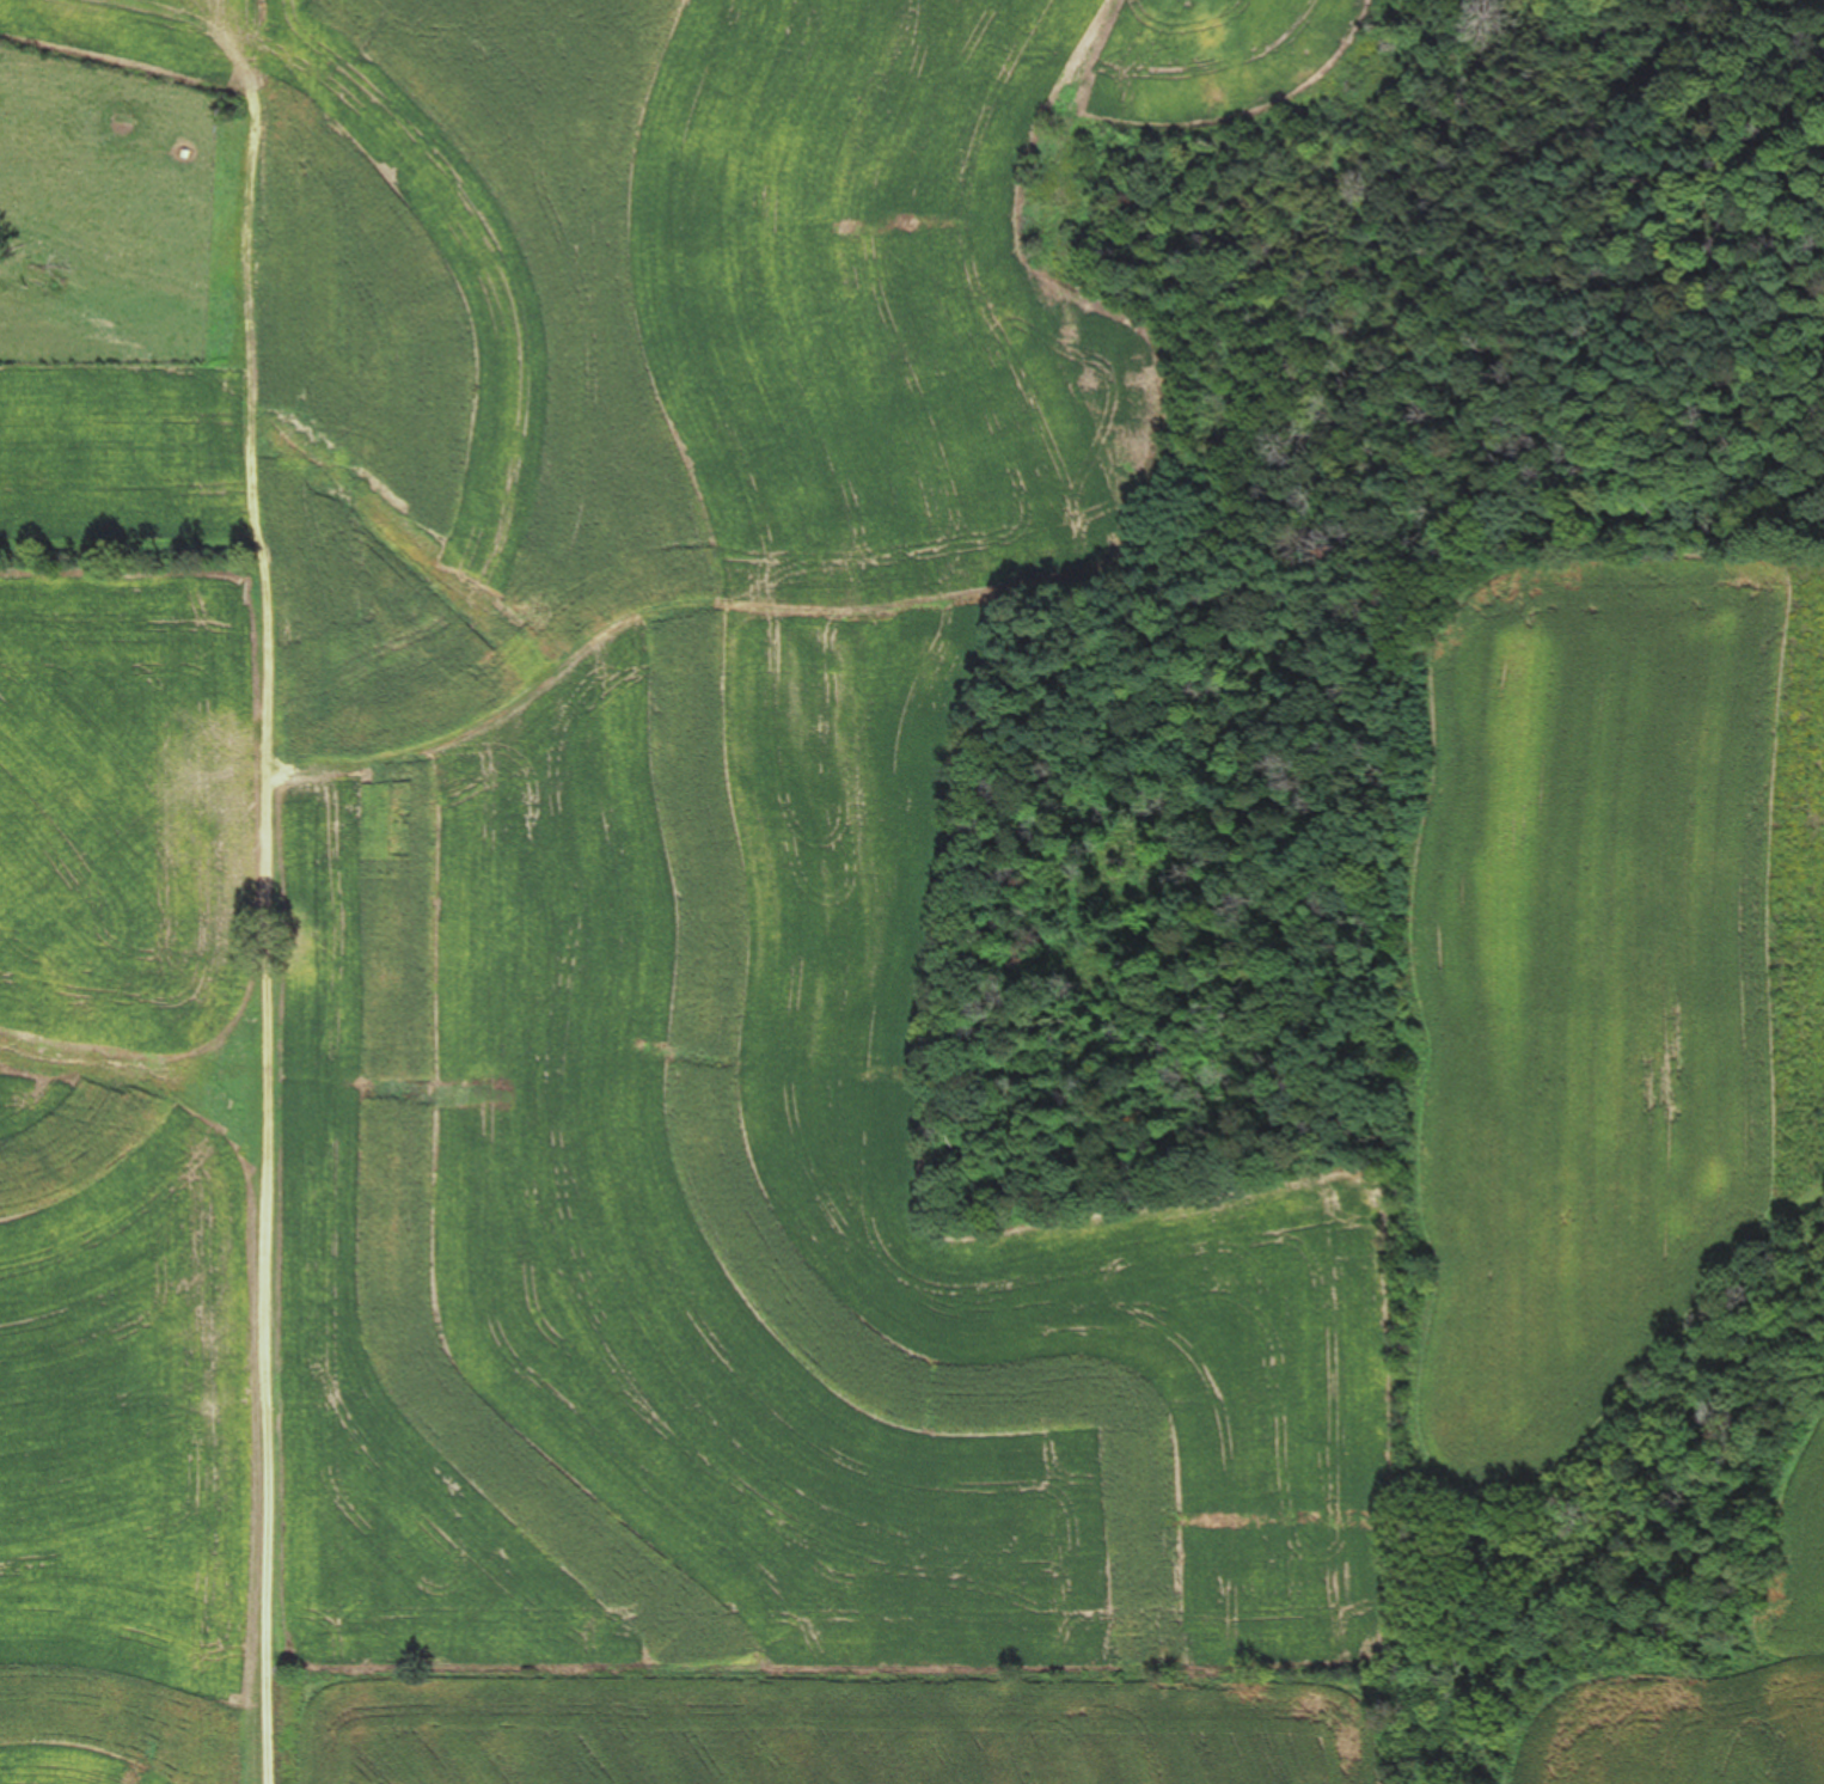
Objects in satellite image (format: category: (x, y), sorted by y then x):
building: (244, 23)
road: (240, 955)

